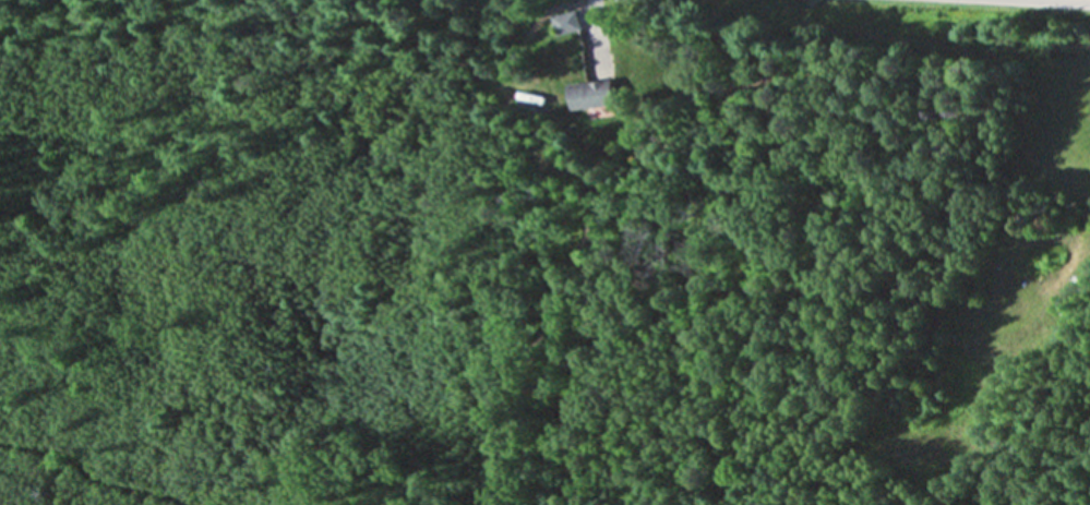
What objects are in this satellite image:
building: (563, 22)
road: (591, 24)
building: (589, 95)

